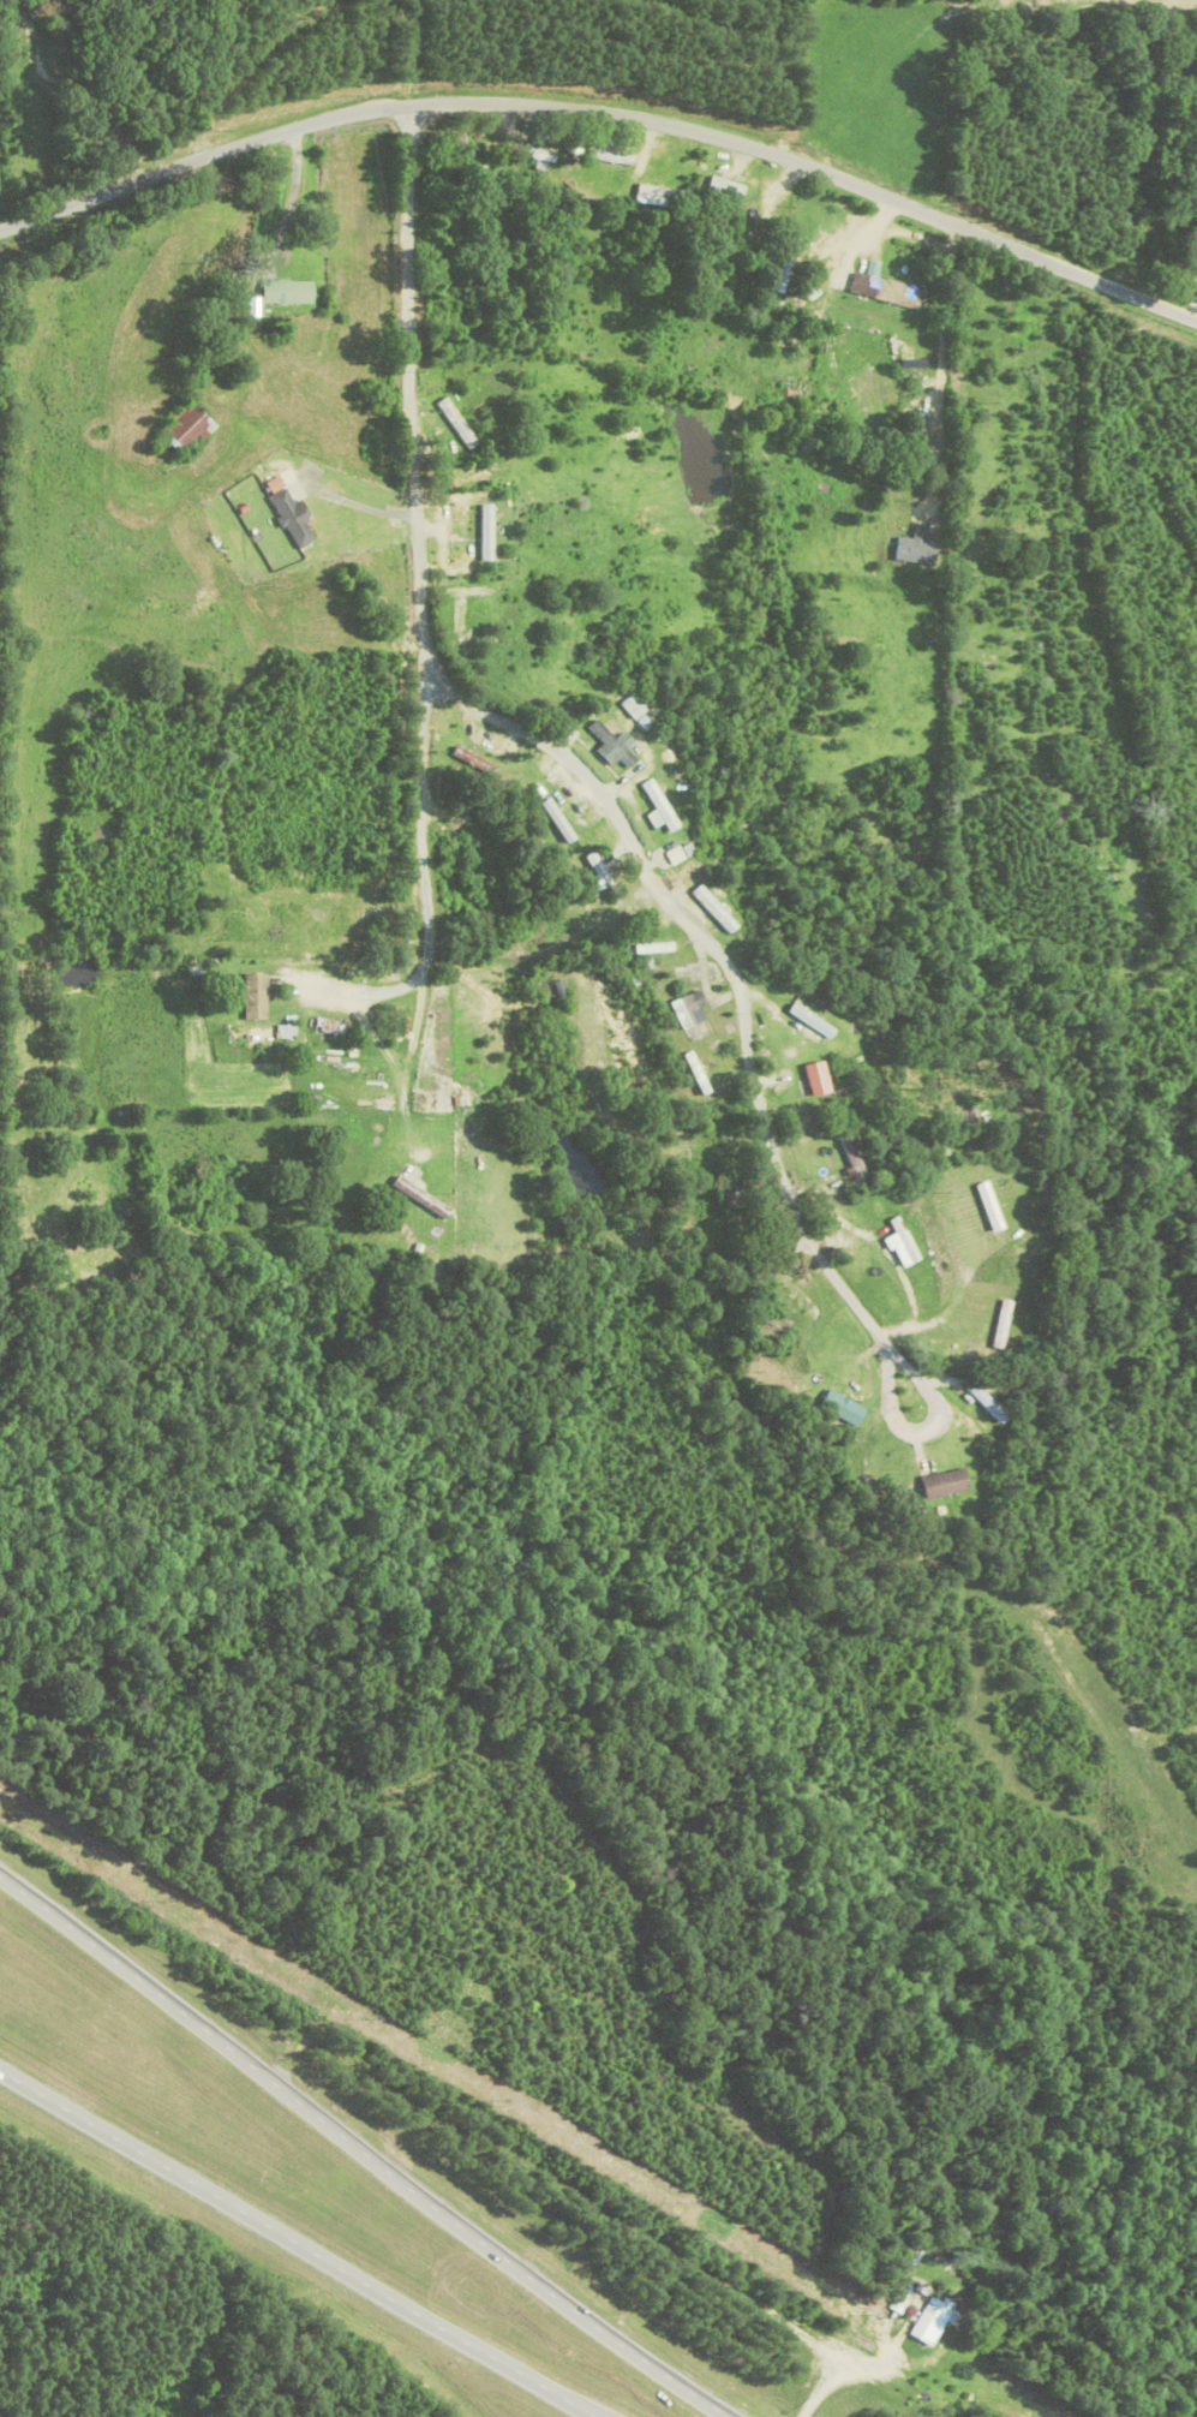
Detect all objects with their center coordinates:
road: (605, 113)
building: (448, 138)
building: (726, 189)
building: (288, 291)
building: (886, 291)
building: (435, 308)
road: (1195, 310)
building: (457, 424)
building: (186, 426)
building: (487, 532)
building: (915, 550)
building: (614, 745)
building: (475, 760)
road: (573, 764)
building: (660, 807)
building: (559, 820)
building: (676, 855)
road: (423, 887)
building: (716, 909)
building: (654, 948)
building: (256, 997)
building: (689, 1009)
building: (814, 1021)
building: (820, 1079)
building: (424, 1200)
building: (736, 1202)
building: (800, 1296)
building: (1004, 1325)
building: (946, 1484)
road: (360, 2149)
road: (293, 2245)
building: (930, 2318)

